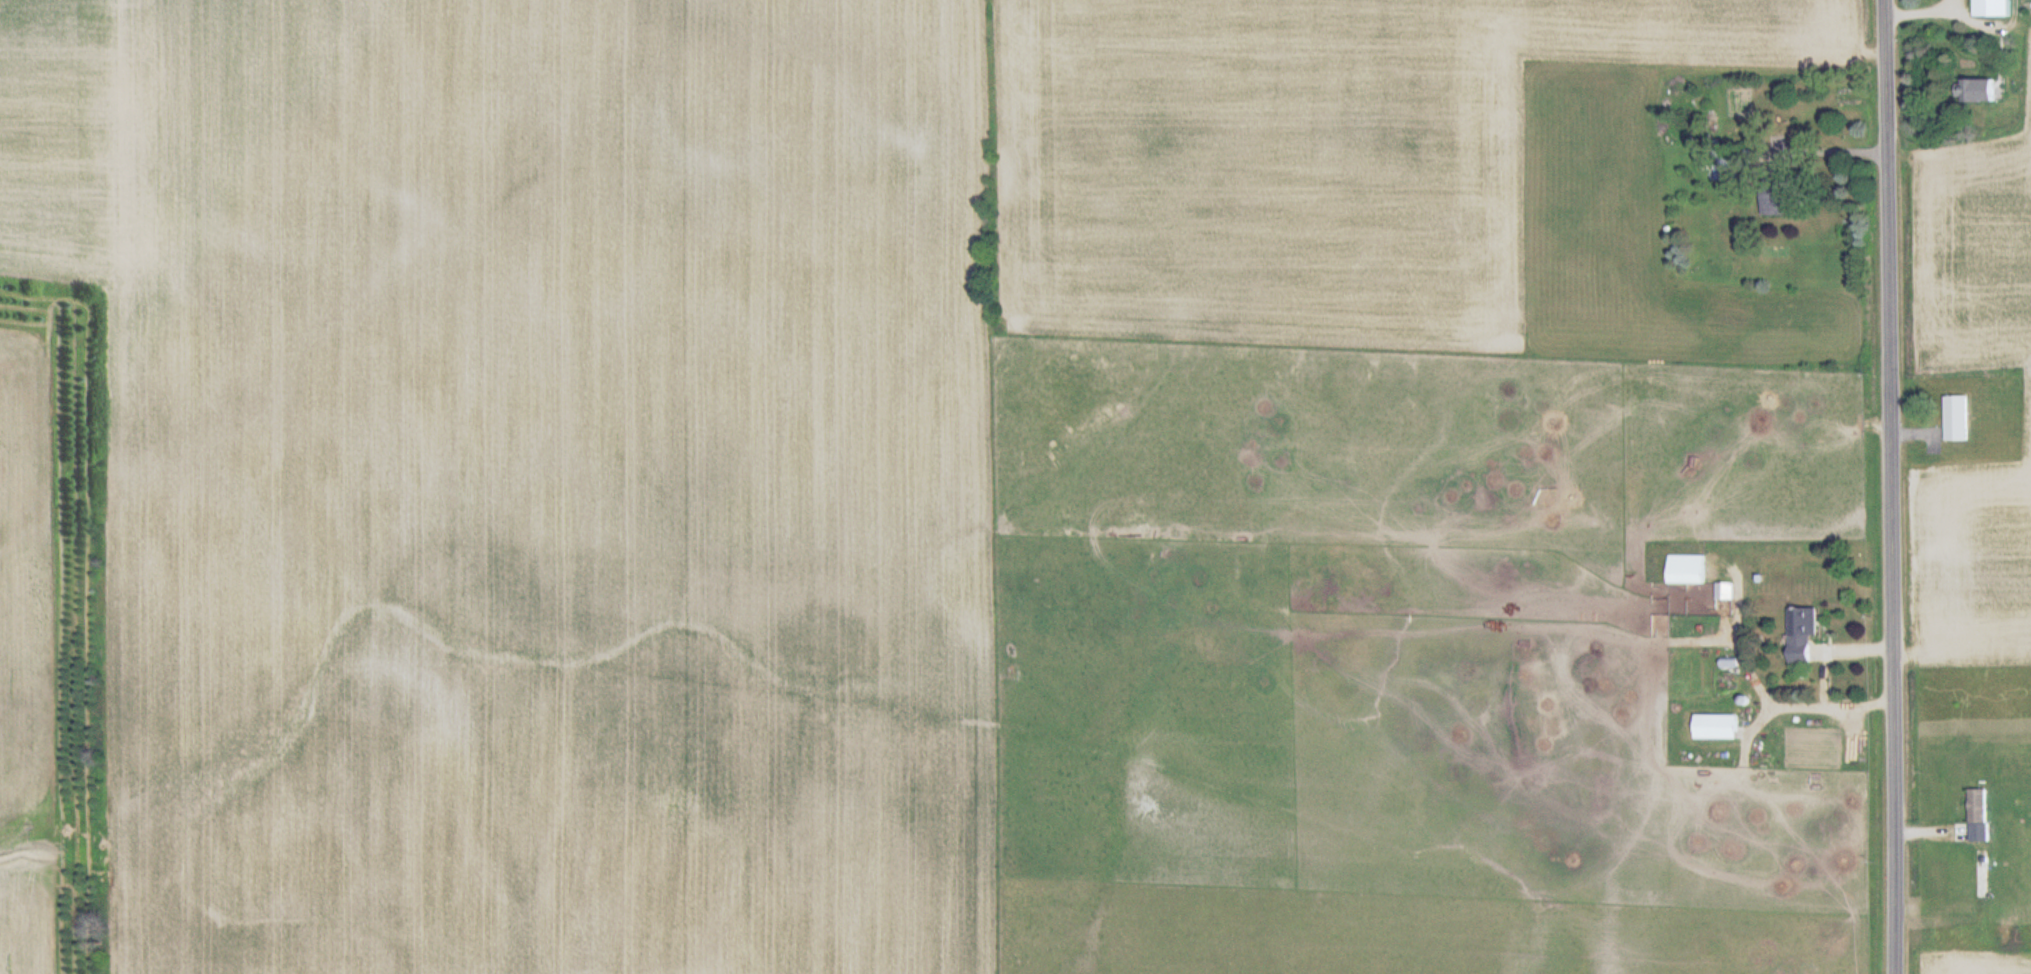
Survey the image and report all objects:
building: (1992, 9)
building: (1981, 91)
road: (1834, 150)
building: (1730, 165)
building: (1778, 200)
building: (1956, 418)
road: (1892, 486)
building: (1687, 569)
building: (1801, 632)
building: (1717, 726)
building: (1978, 806)

